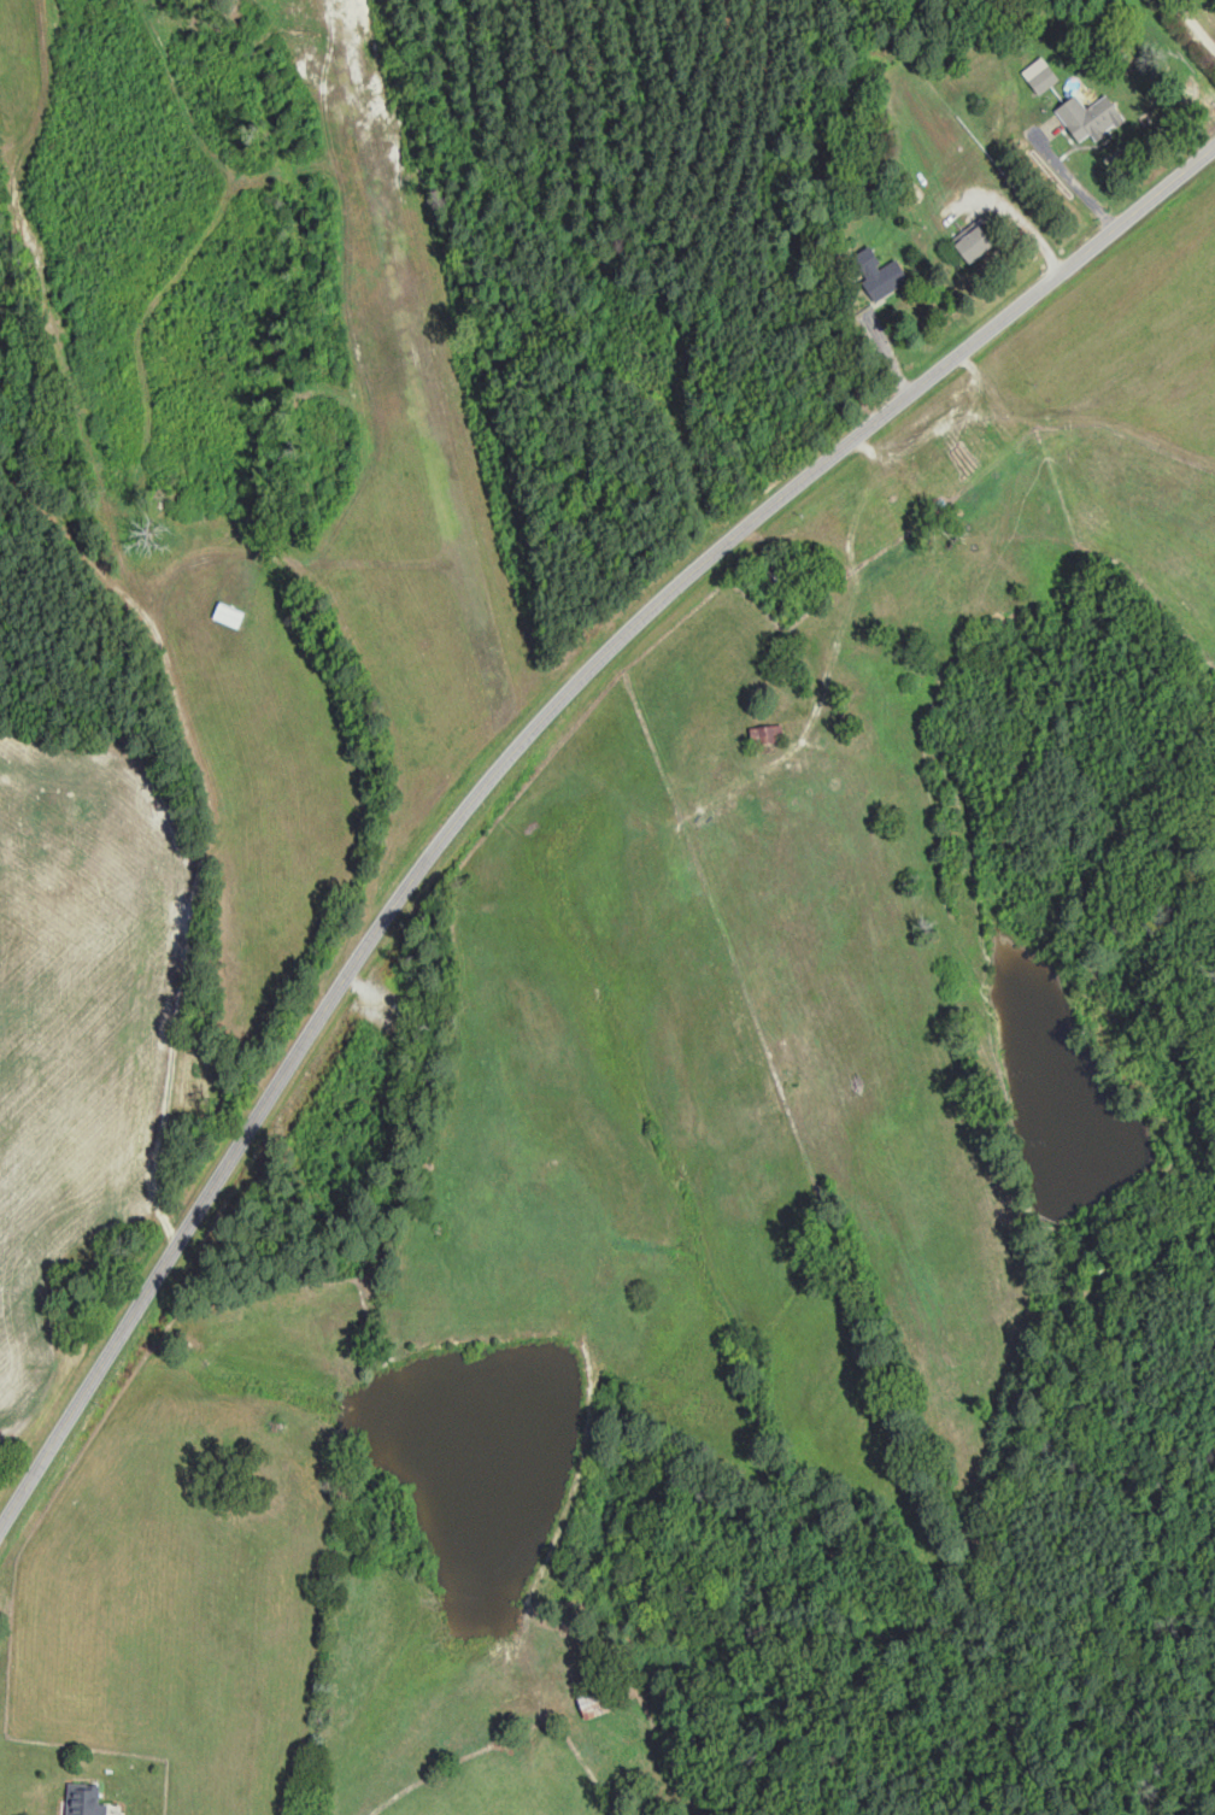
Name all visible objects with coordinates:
road: (1196, 22)
building: (1041, 75)
building: (1091, 118)
building: (979, 243)
building: (877, 274)
road: (243, 431)
building: (787, 576)
building: (769, 734)
road: (511, 753)
road: (181, 939)
building: (604, 1697)
building: (86, 1799)

